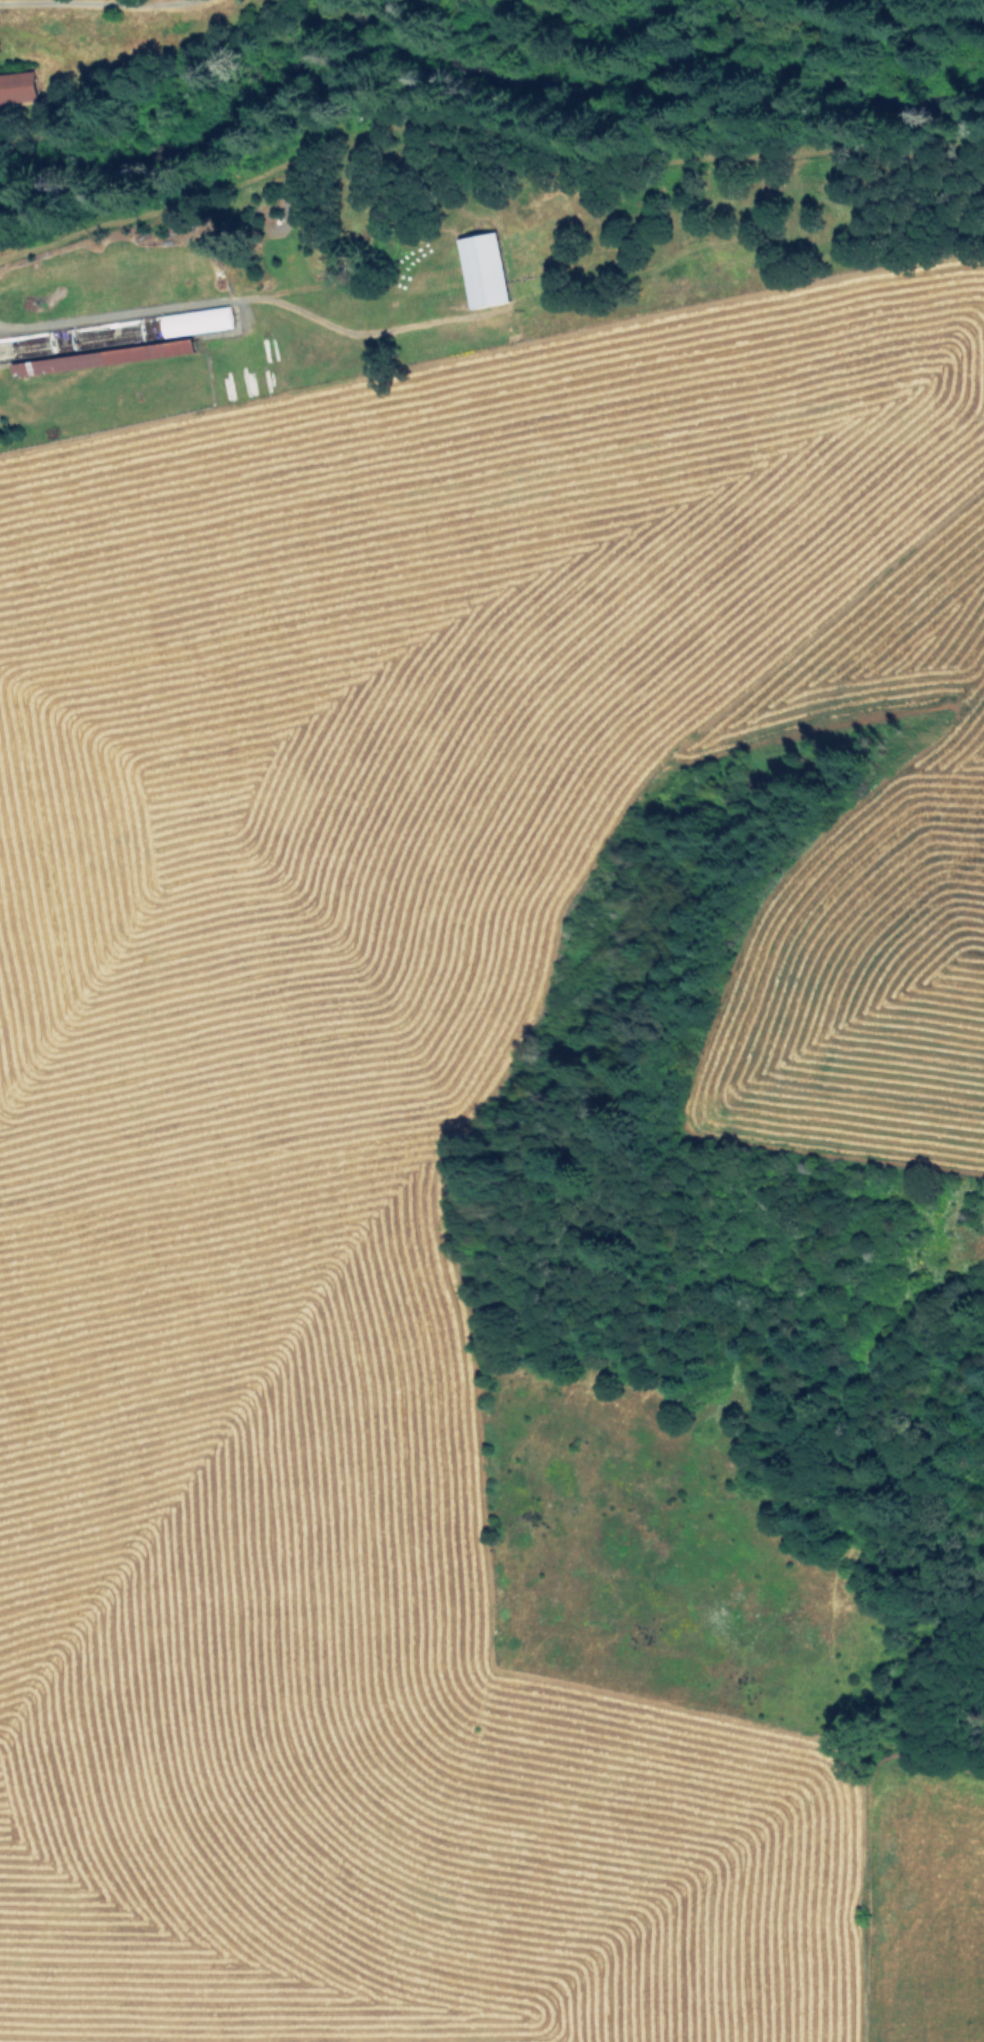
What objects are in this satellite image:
crop: (50, 8)
building: (484, 269)
building: (196, 320)
crop: (442, 1123)

